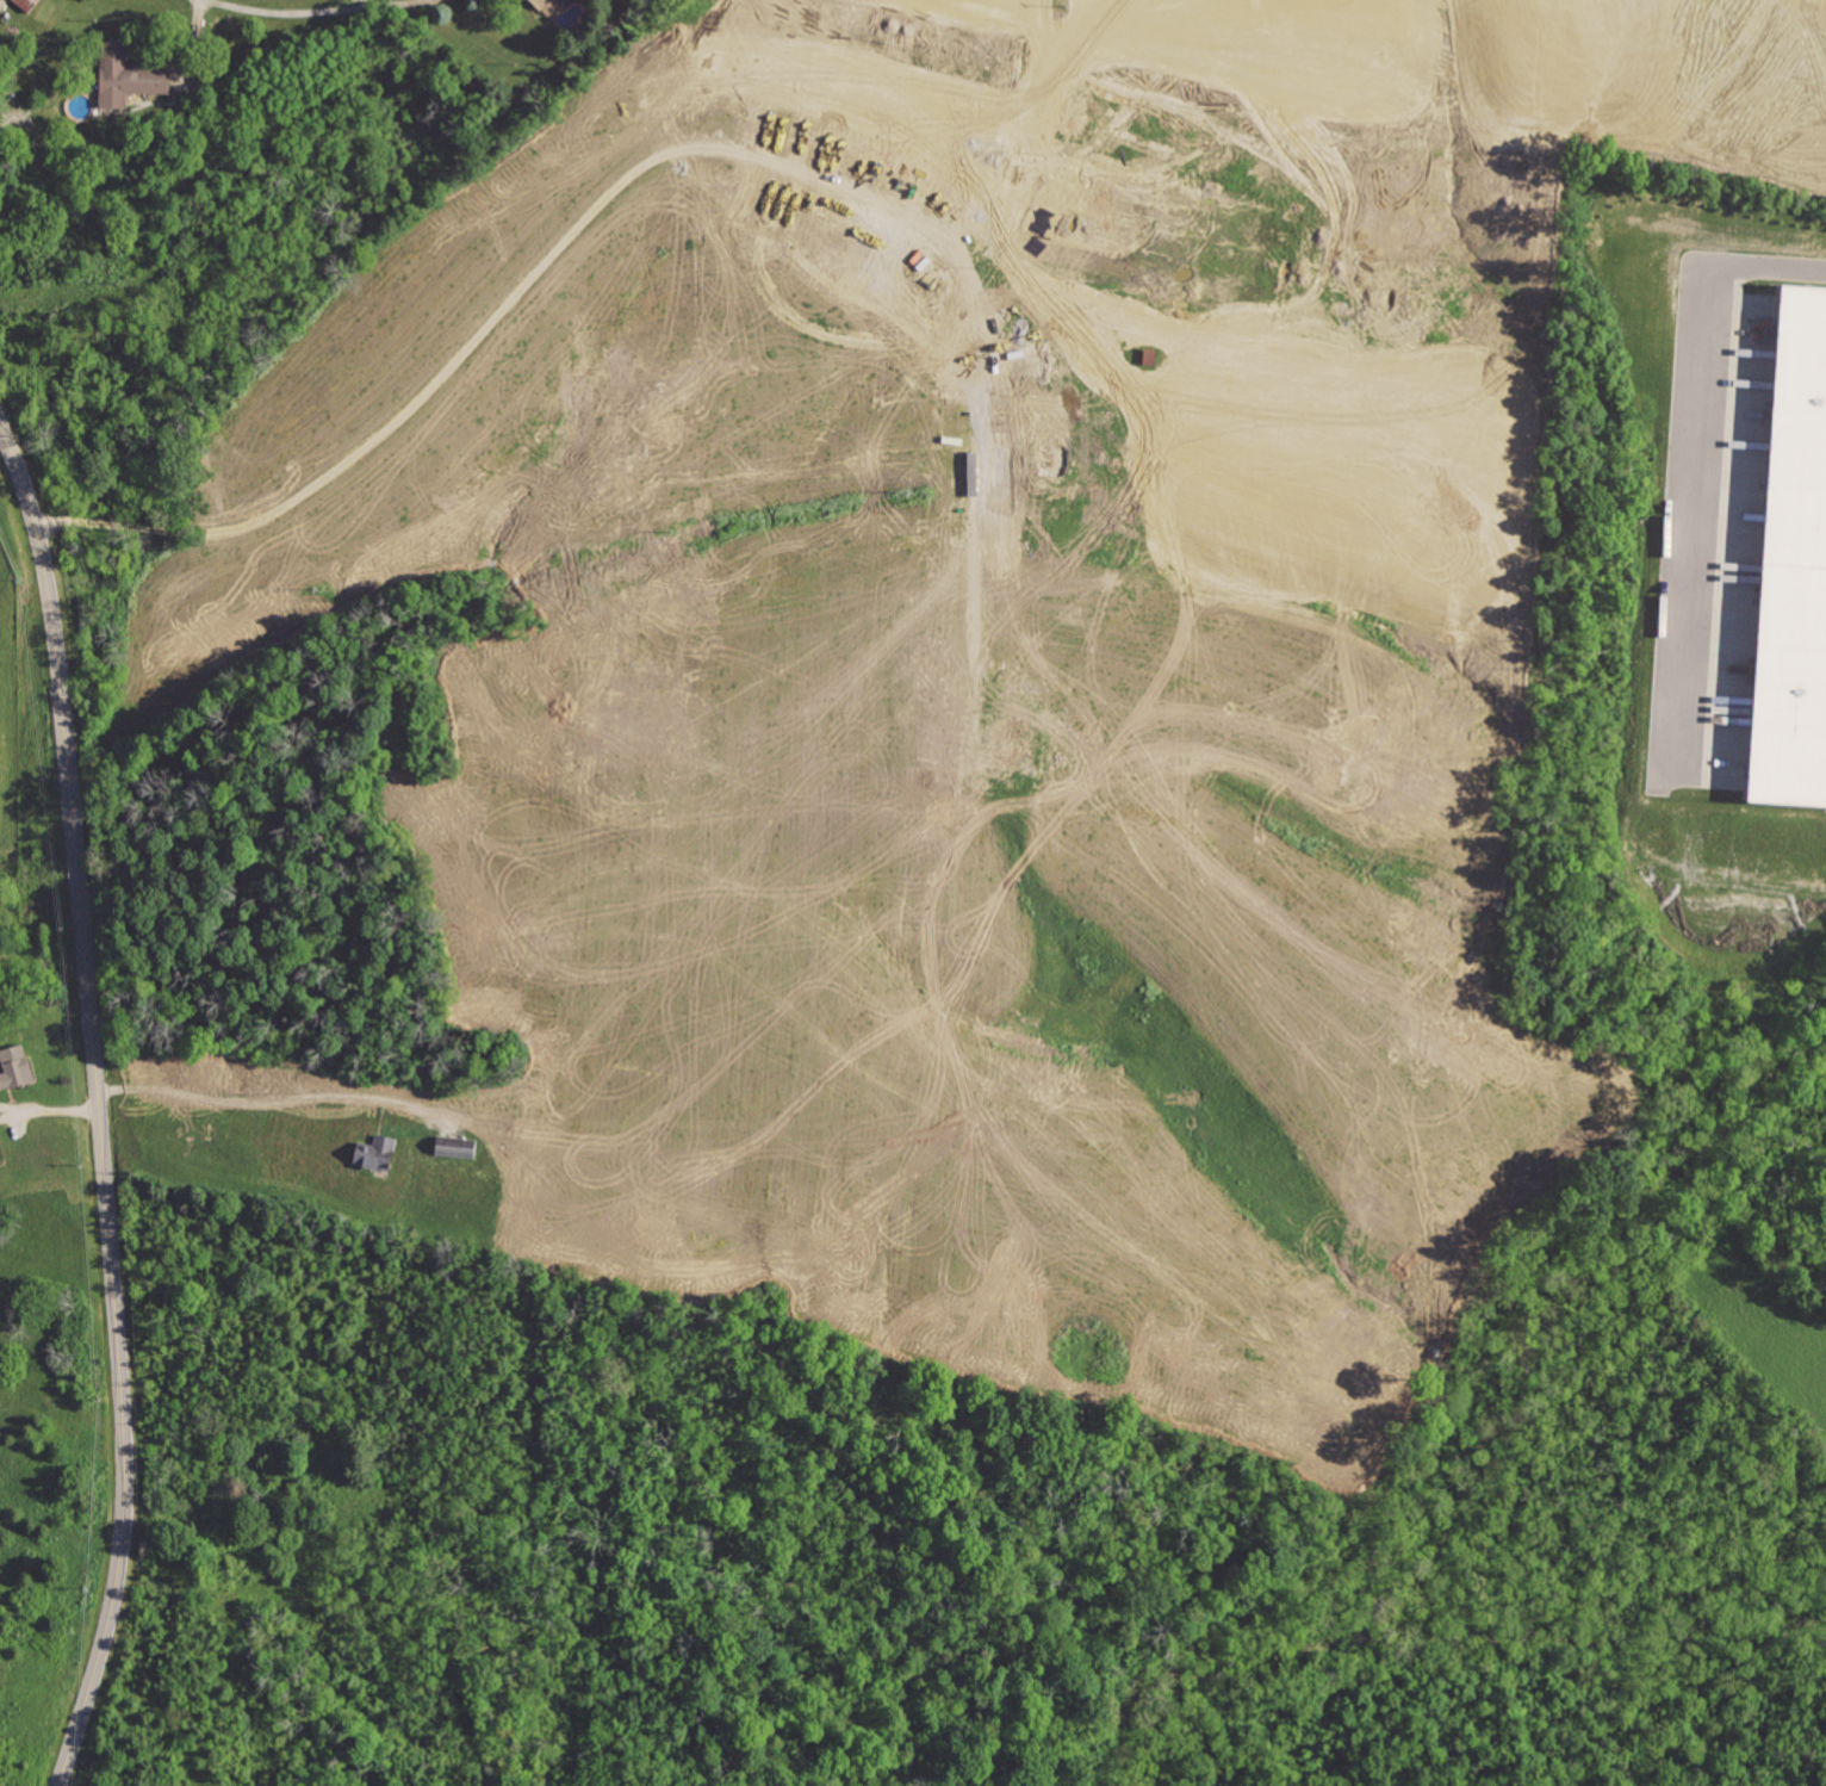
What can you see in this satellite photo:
building: (27, 4)
building: (547, 5)
road: (310, 11)
road: (195, 25)
building: (128, 75)
building: (1058, 107)
building: (1082, 111)
road: (20, 120)
building: (1037, 359)
road: (1698, 448)
building: (1051, 452)
building: (1794, 564)
building: (1011, 739)
building: (14, 1066)
road: (98, 1109)
road: (49, 1112)
building: (377, 1152)

